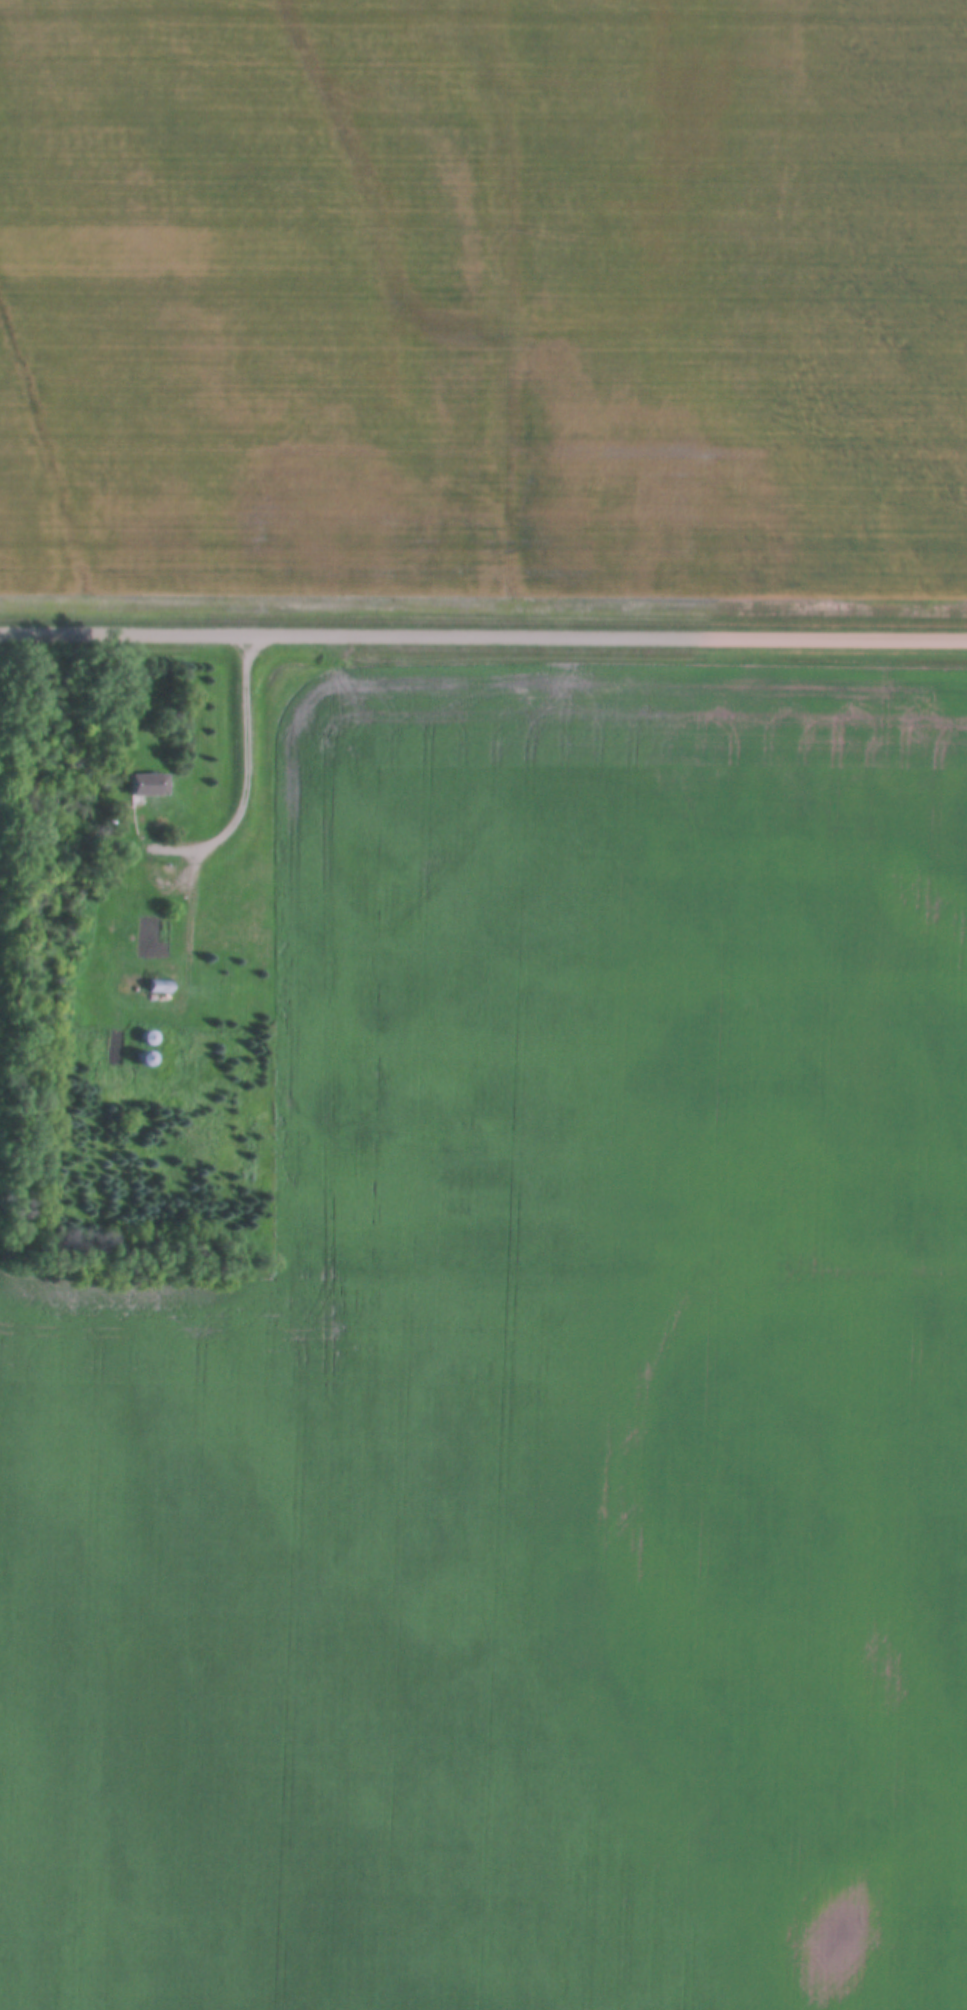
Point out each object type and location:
road: (483, 636)
building: (142, 782)
road: (239, 802)
road: (168, 875)
road: (183, 932)
building: (152, 985)
building: (143, 1036)
silo: (143, 1036)
building: (140, 1058)
silo: (140, 1058)

